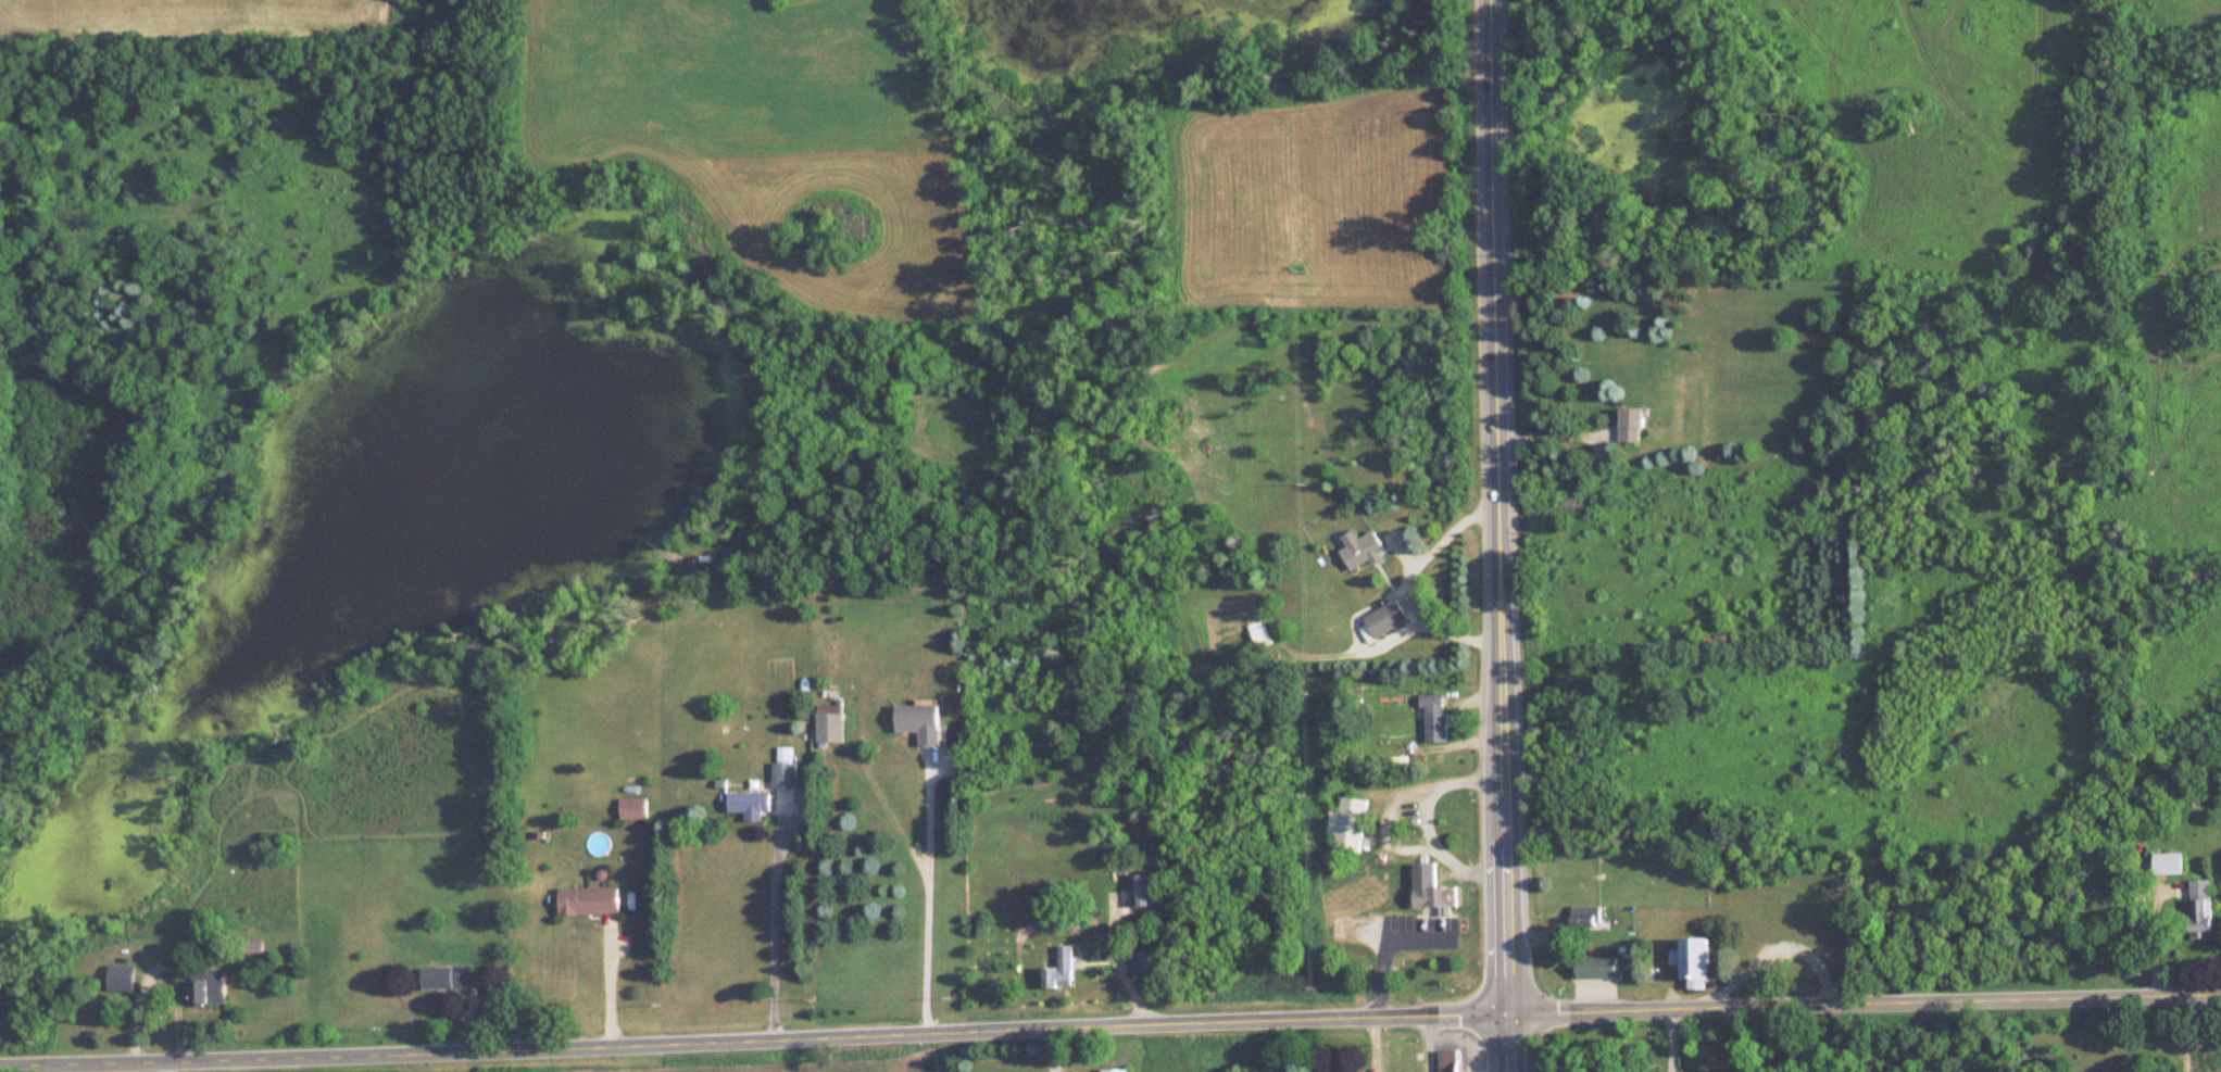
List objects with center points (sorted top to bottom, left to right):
building: (1631, 423)
road: (1502, 535)
building: (1363, 548)
road: (1417, 594)
building: (1385, 617)
building: (1432, 717)
building: (920, 720)
building: (830, 722)
building: (785, 773)
building: (749, 802)
building: (632, 807)
road: (1423, 821)
building: (1346, 823)
road: (1382, 823)
building: (1143, 888)
building: (1427, 888)
building: (588, 898)
road: (926, 903)
building: (2201, 905)
building: (1584, 913)
road: (773, 926)
road: (1774, 951)
road: (1398, 953)
building: (1695, 960)
building: (1145, 962)
building: (1593, 967)
building: (1061, 968)
building: (121, 976)
building: (449, 976)
building: (210, 987)
road: (610, 988)
road: (1110, 1032)
road: (1671, 1043)
building: (1448, 1060)
road: (168, 1065)
building: (1115, 1070)

